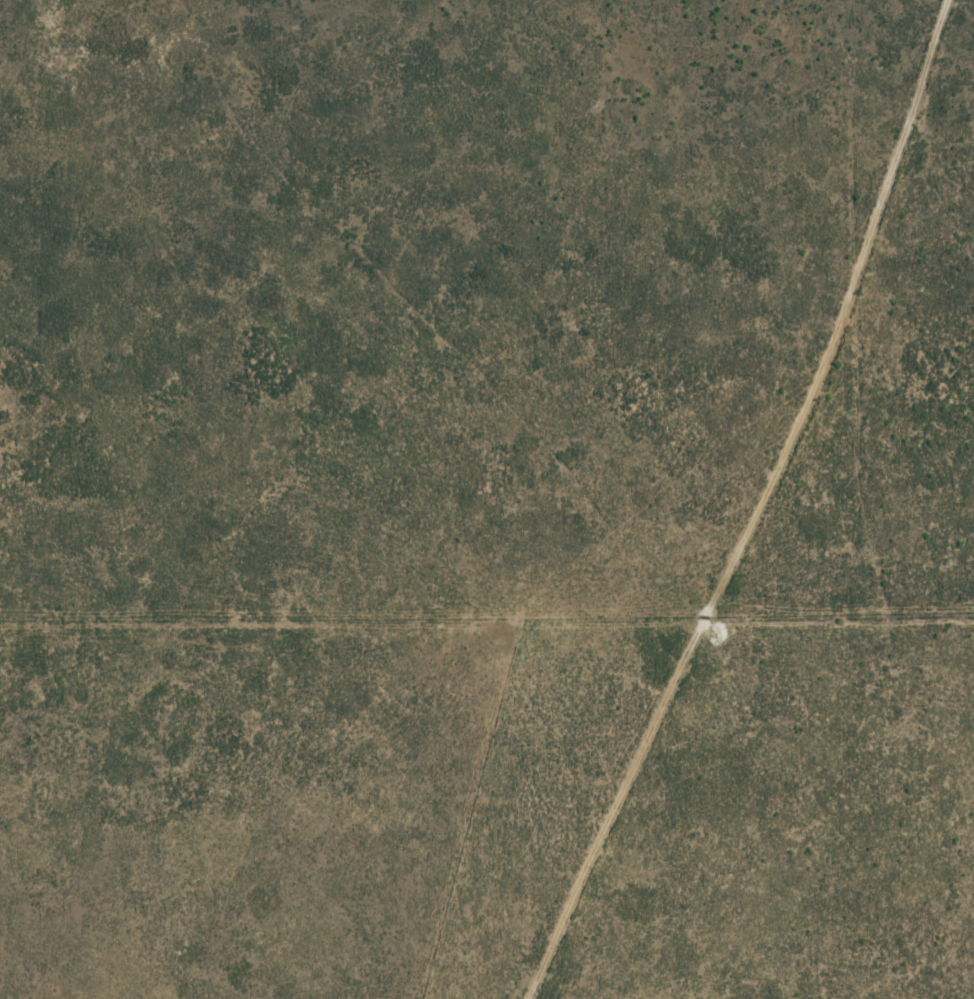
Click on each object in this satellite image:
road: (725, 494)

